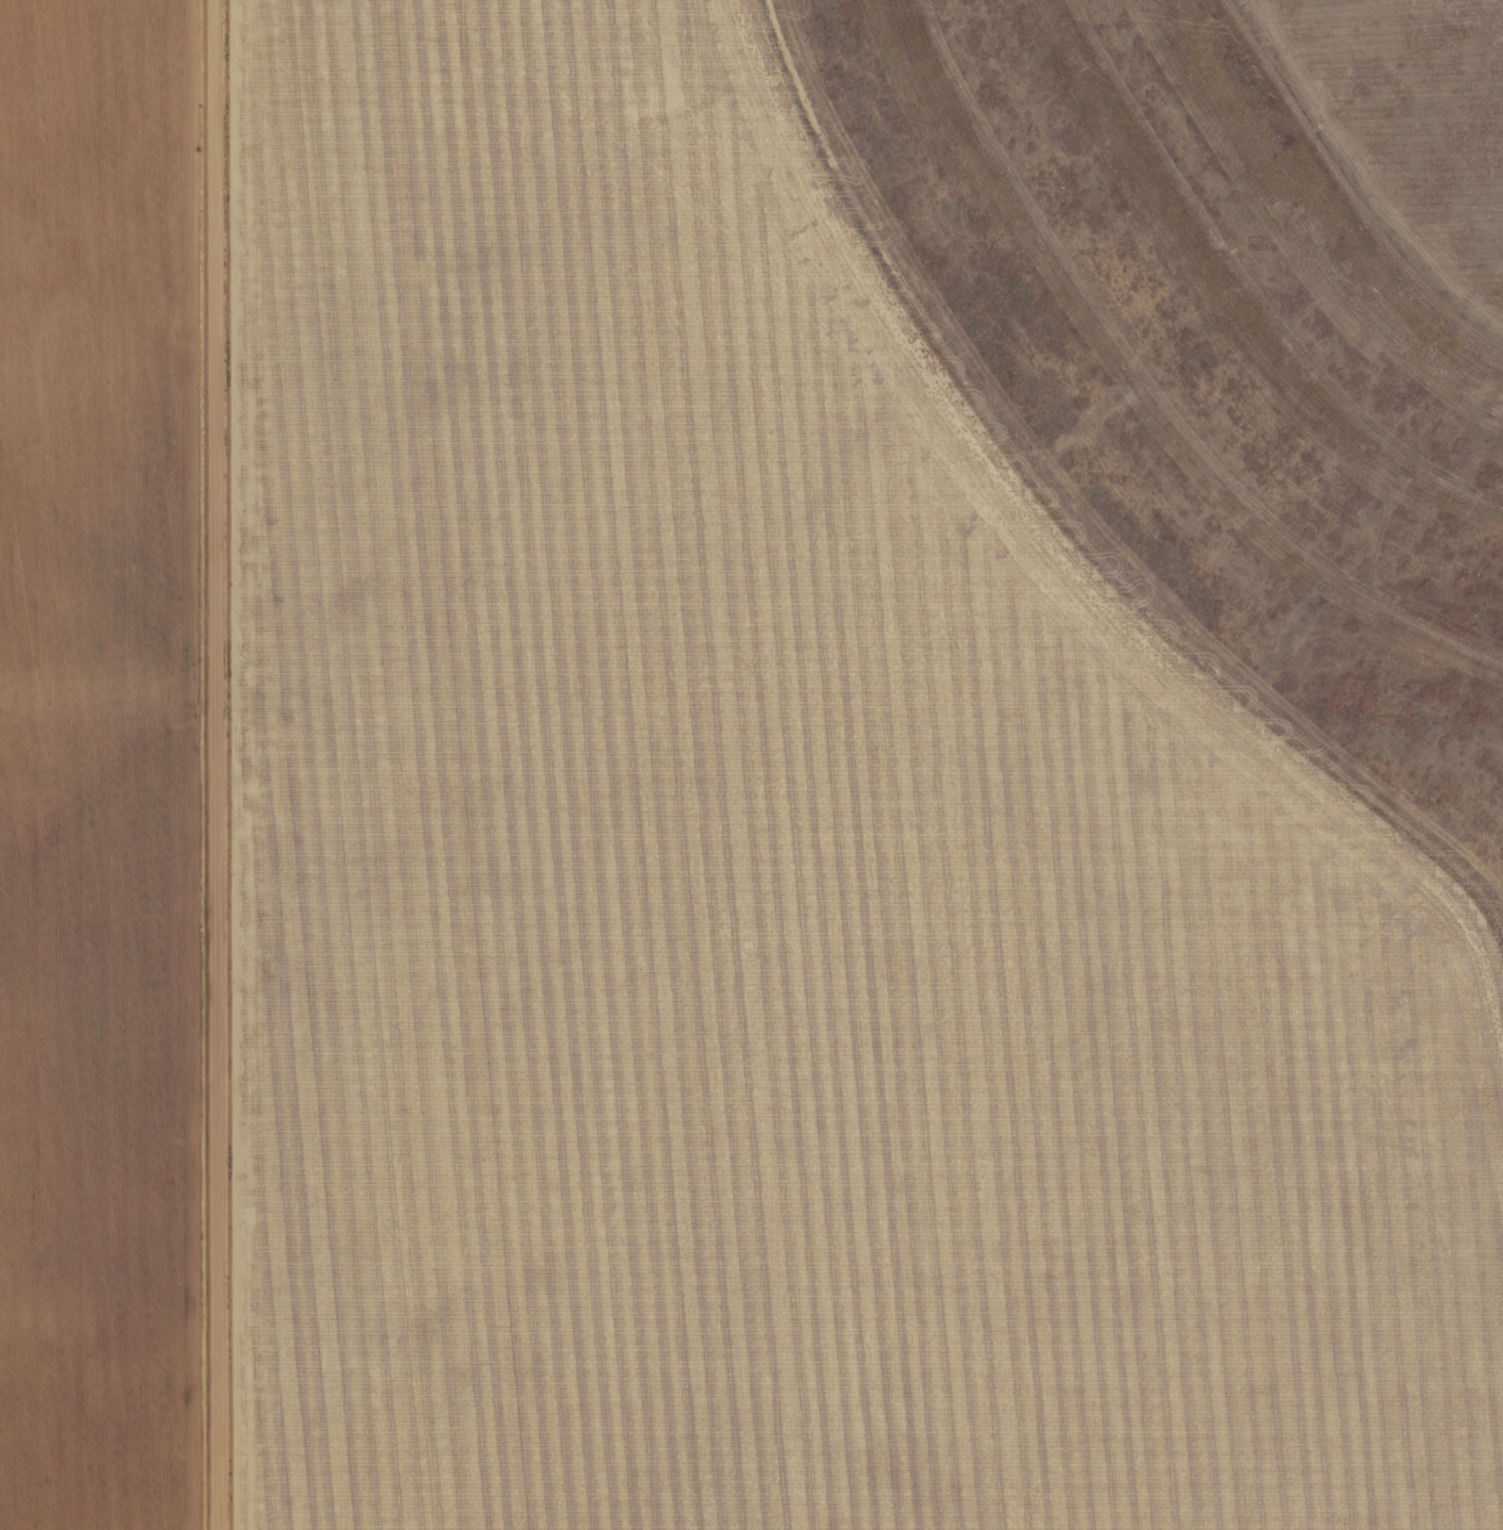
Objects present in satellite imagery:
road: (220, 765)

